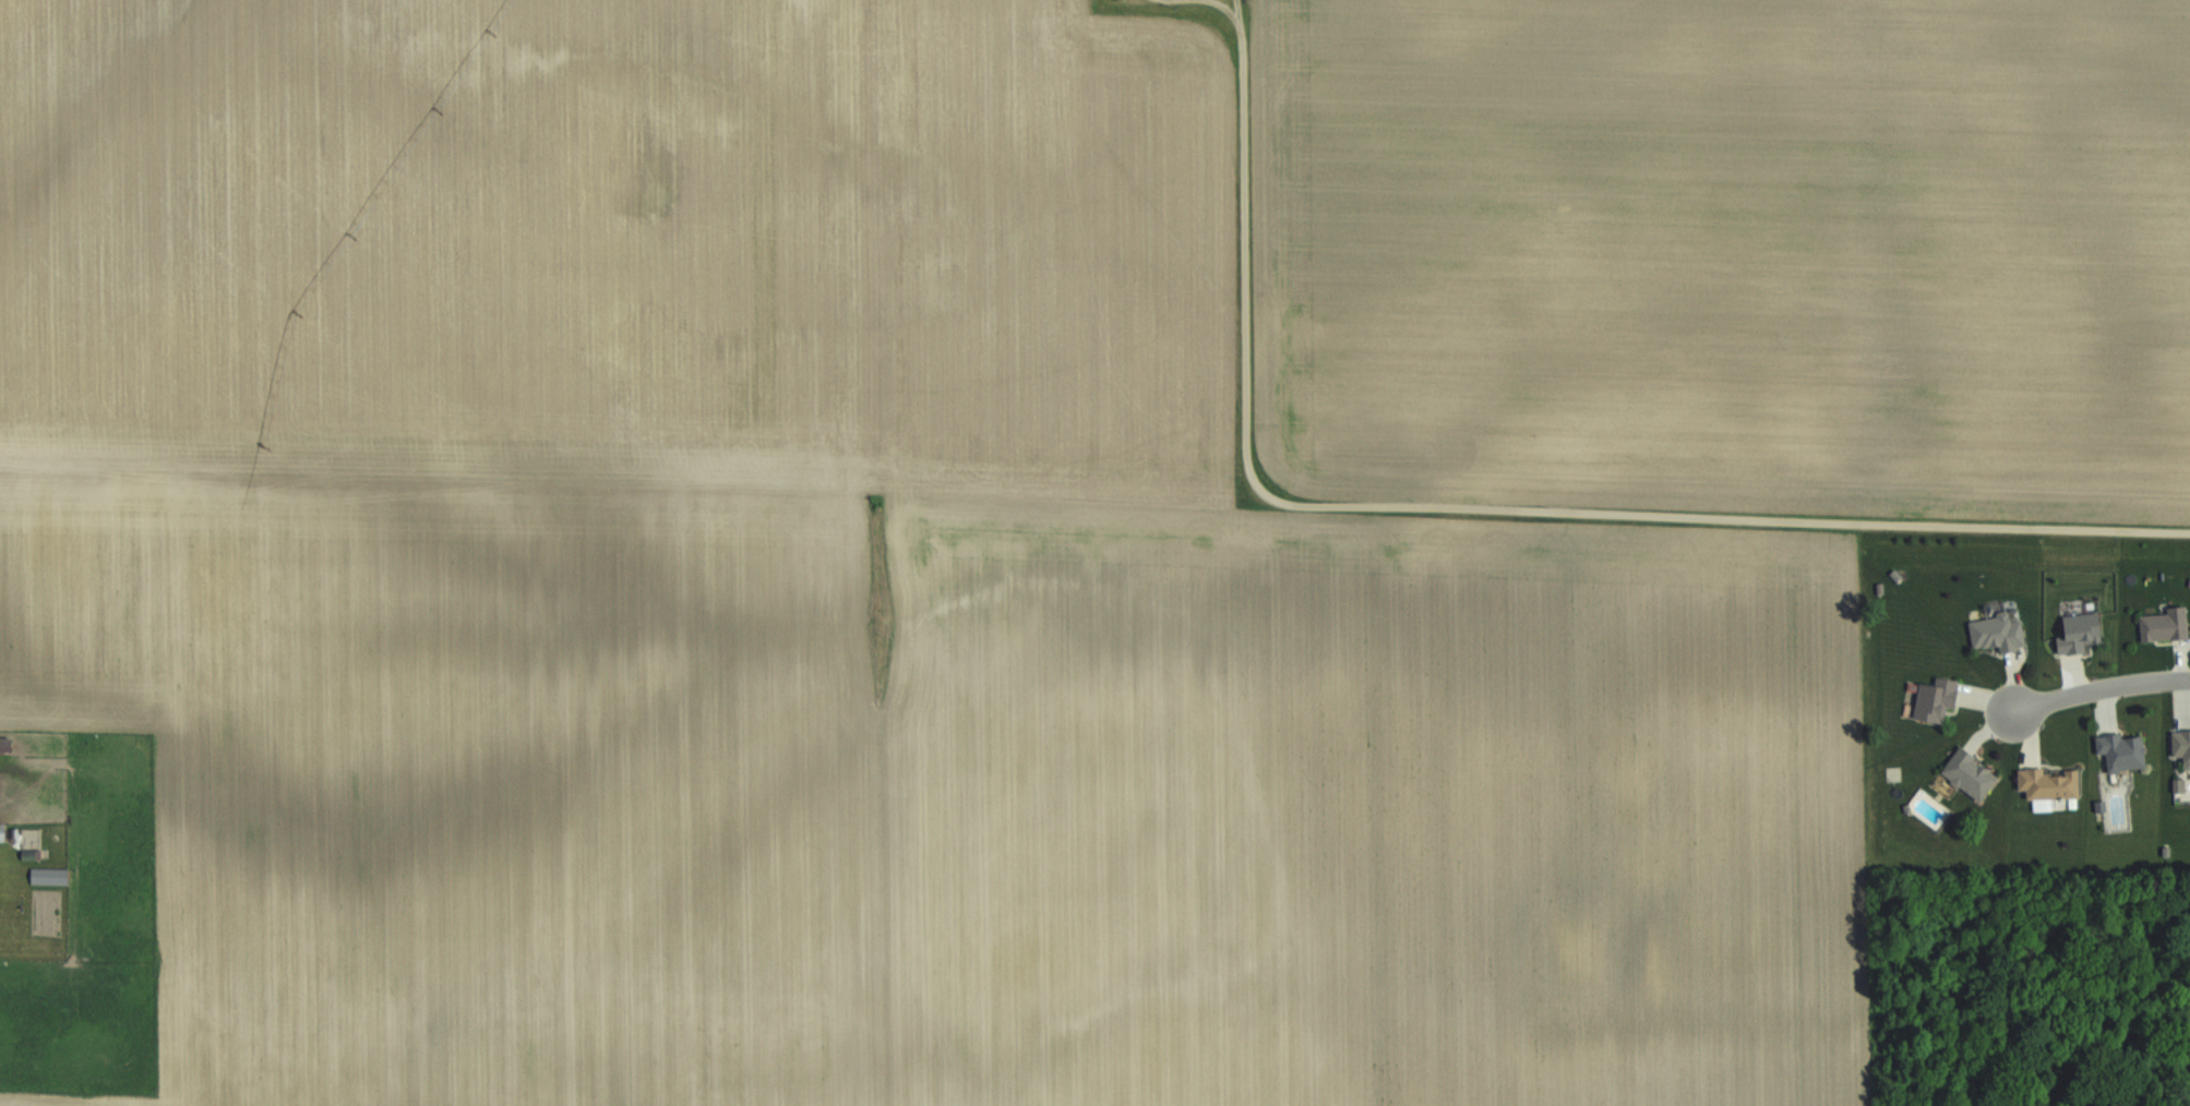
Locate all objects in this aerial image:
road: (1193, 2)
road: (1229, 12)
road: (1483, 512)
building: (2167, 626)
building: (2000, 634)
building: (2082, 634)
road: (2102, 689)
building: (2182, 749)
building: (2125, 752)
building: (1973, 774)
building: (2053, 784)
building: (4, 833)

